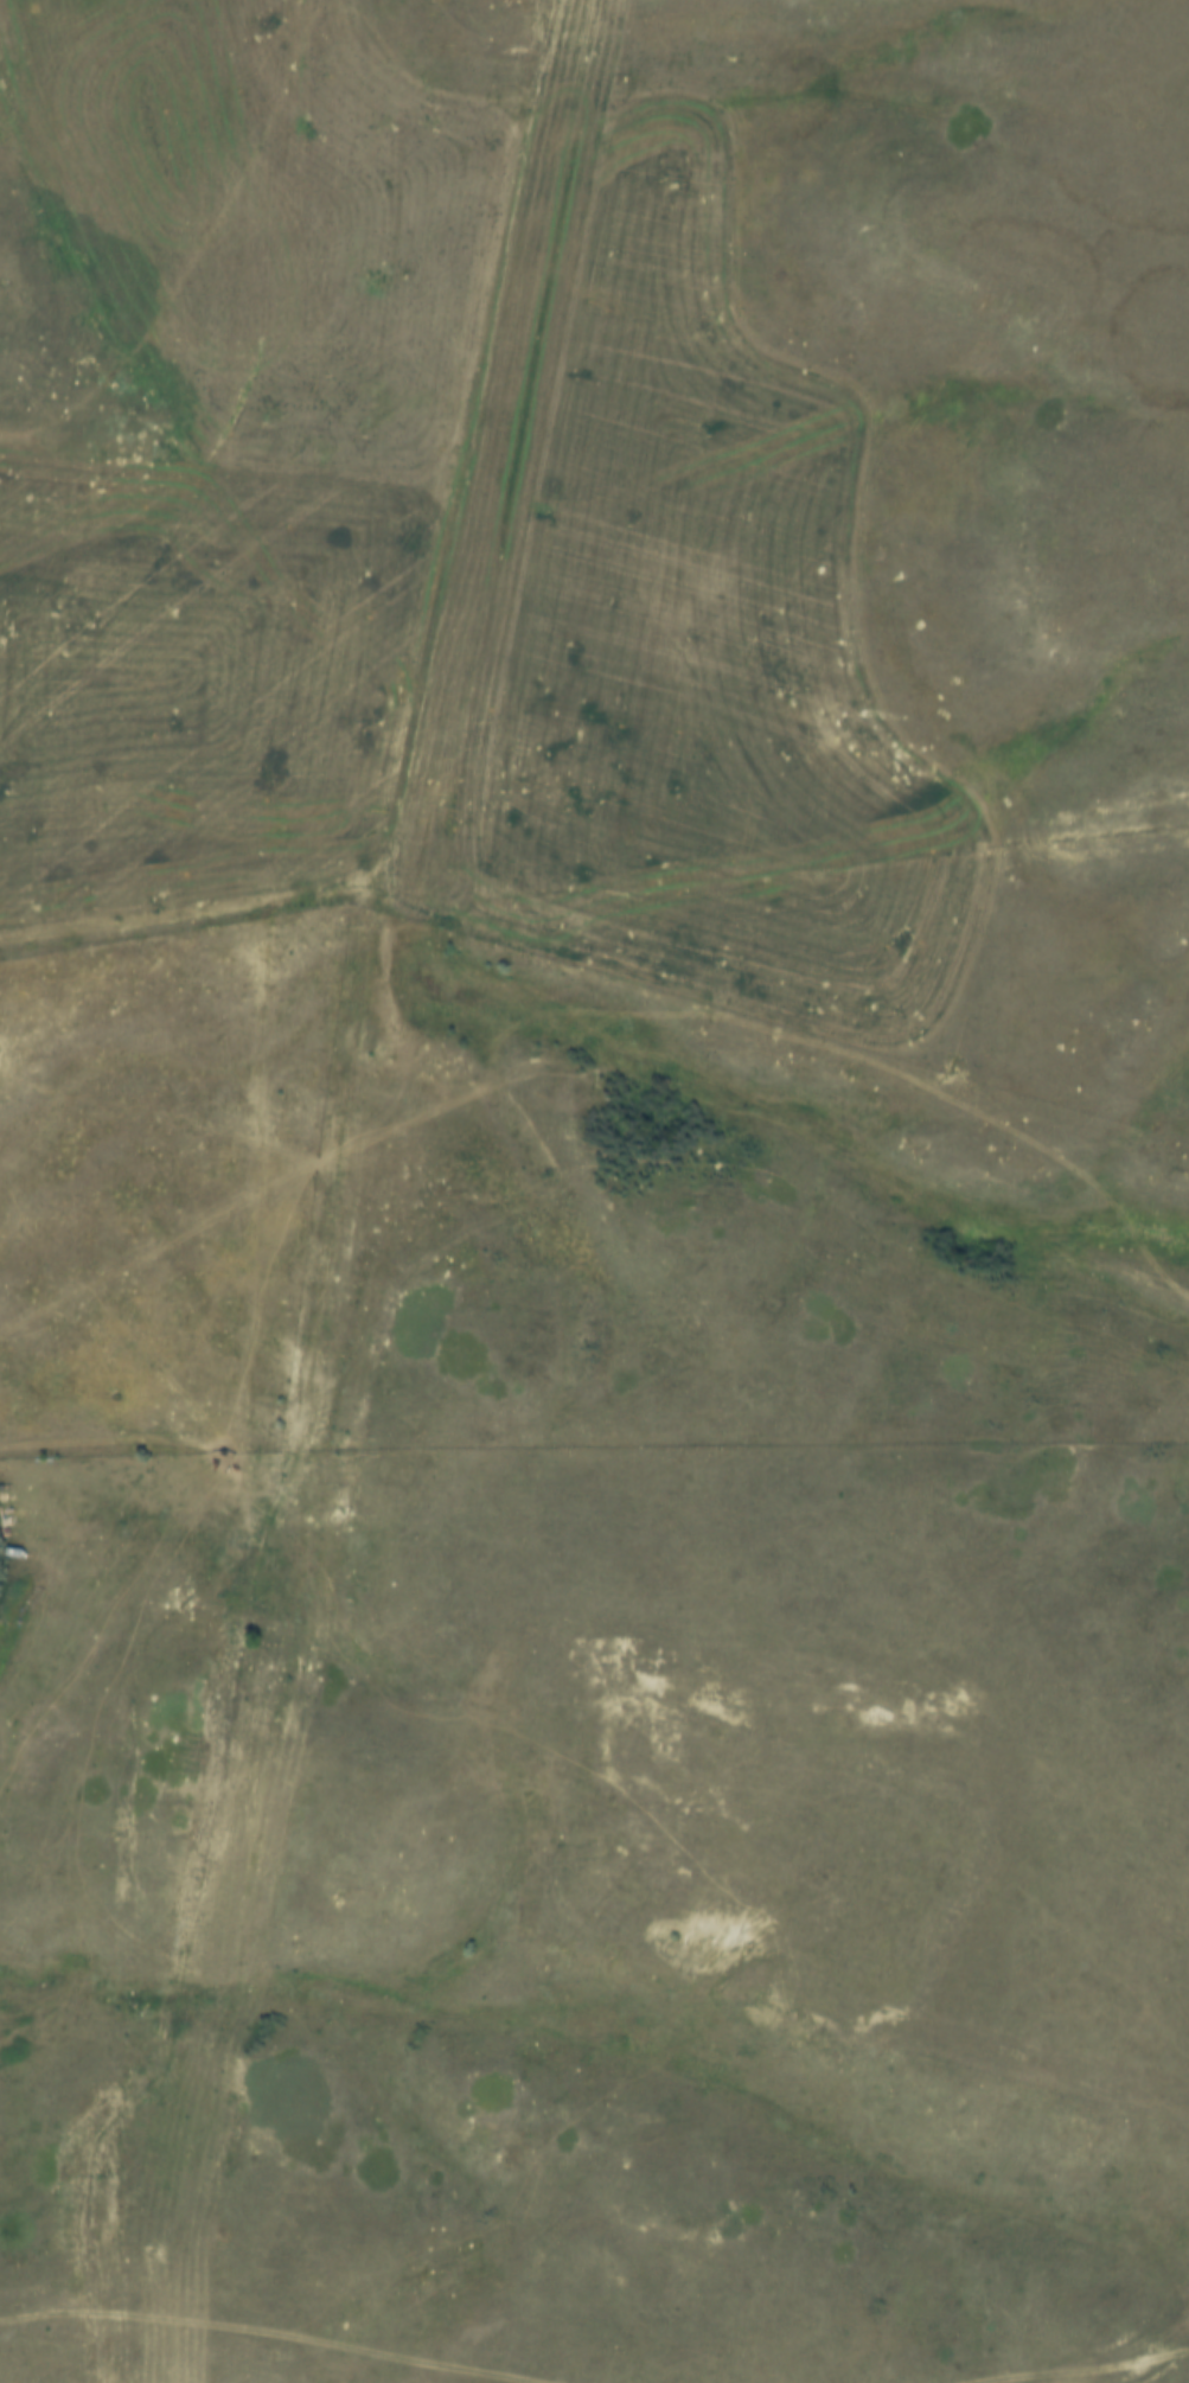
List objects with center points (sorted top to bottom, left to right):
road: (238, 408)

